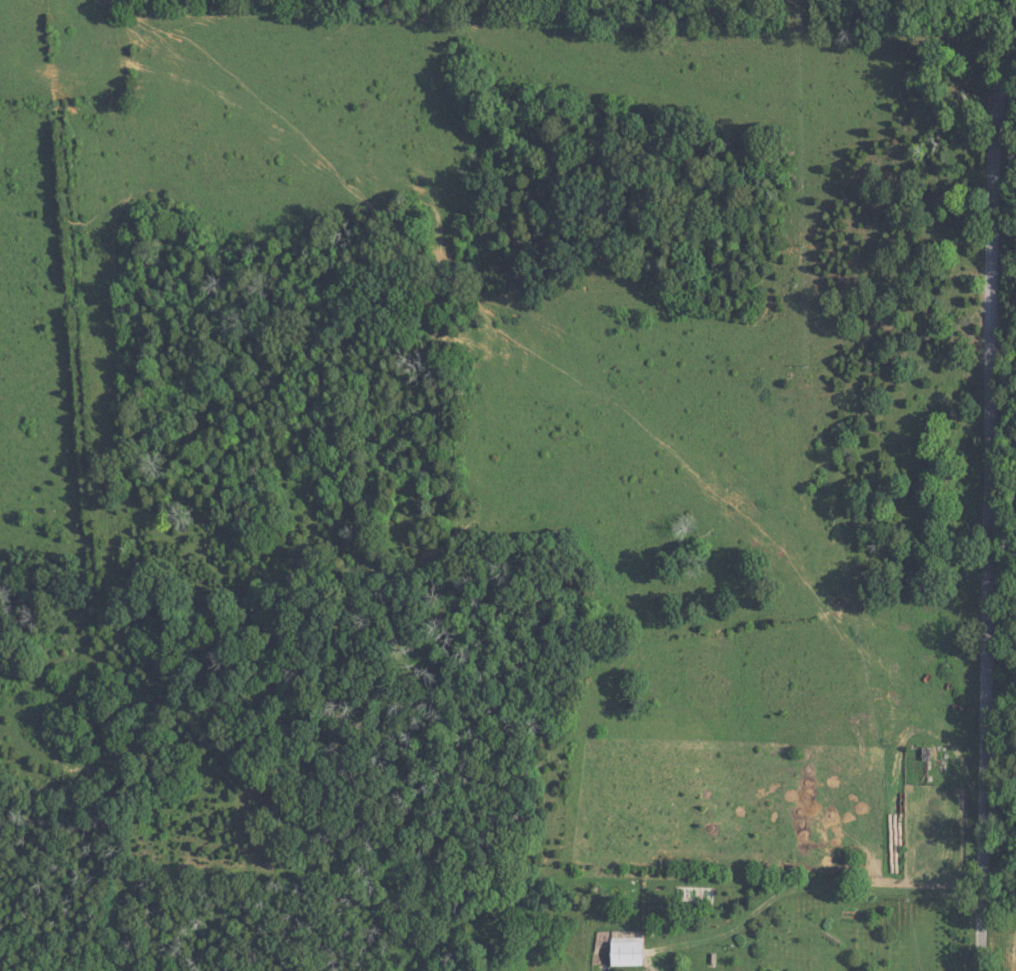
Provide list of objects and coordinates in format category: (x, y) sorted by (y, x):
road: (988, 484)
building: (628, 952)

